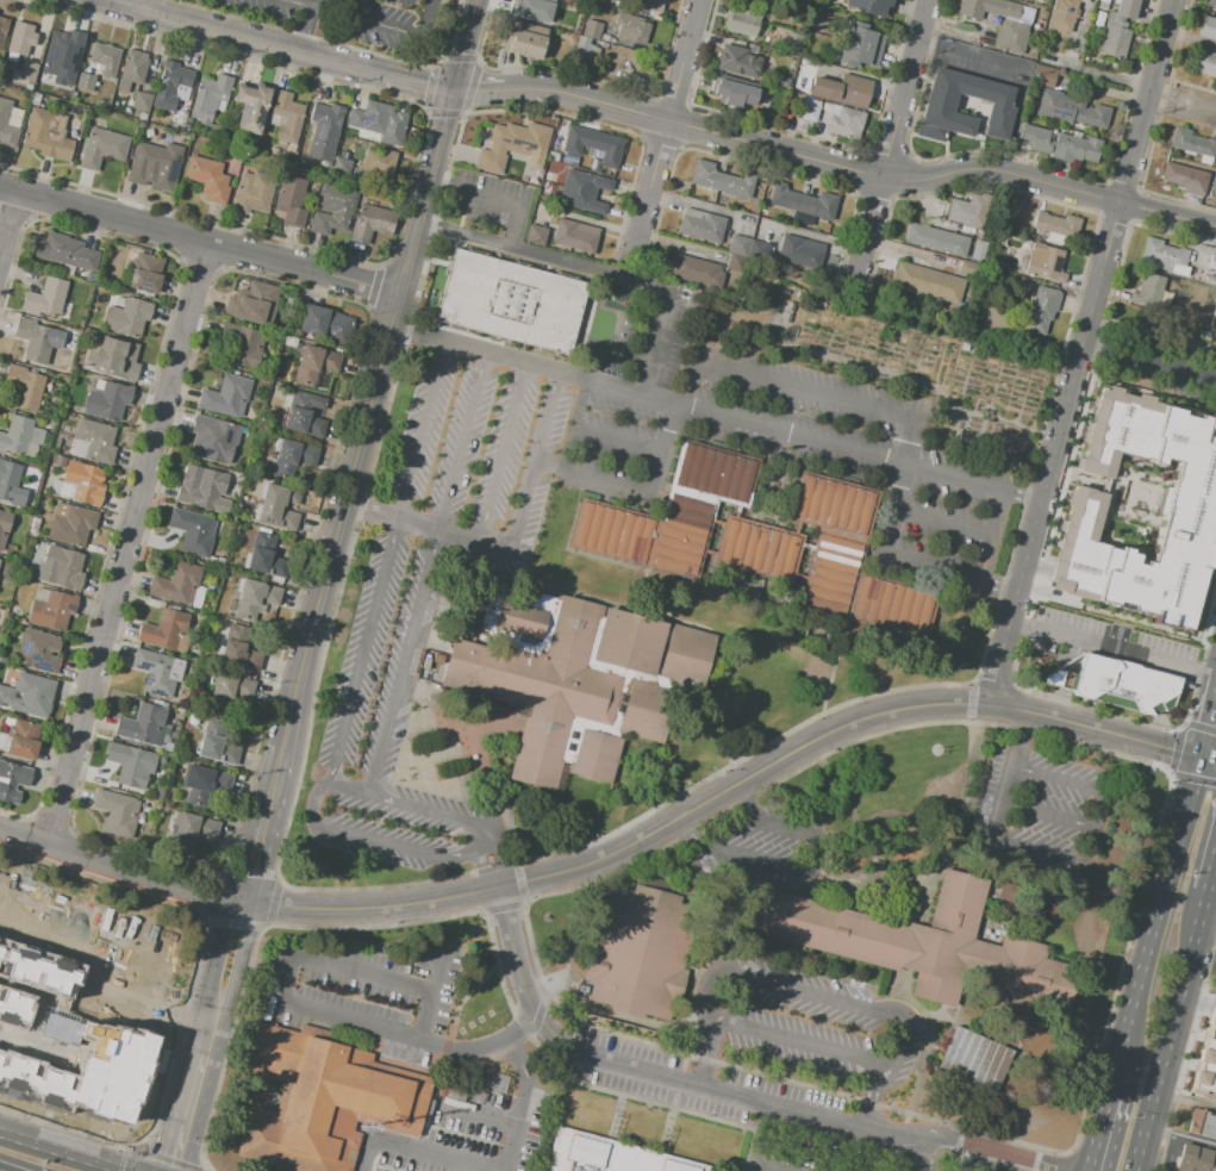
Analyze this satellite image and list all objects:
building: (597, 0)
building: (1024, 0)
building: (613, 1)
road: (112, 2)
building: (1211, 2)
building: (869, 5)
building: (535, 6)
building: (649, 6)
building: (993, 10)
building: (1064, 15)
road: (367, 23)
building: (743, 25)
road: (304, 27)
building: (1208, 27)
building: (632, 29)
building: (2, 30)
building: (1118, 30)
building: (591, 31)
building: (1011, 37)
building: (21, 38)
road: (239, 39)
building: (526, 41)
building: (792, 43)
road: (466, 44)
building: (856, 44)
building: (57, 48)
building: (581, 51)
building: (105, 58)
road: (681, 58)
building: (737, 62)
building: (1204, 63)
building: (133, 67)
building: (27, 70)
building: (1043, 75)
building: (68, 80)
building: (86, 81)
road: (419, 85)
building: (29, 86)
building: (172, 86)
road: (904, 87)
building: (841, 88)
traffic signals: (454, 89)
road: (479, 89)
building: (732, 91)
building: (67, 93)
building: (74, 94)
building: (208, 98)
building: (35, 99)
building: (142, 100)
building: (251, 107)
building: (940, 107)
building: (1070, 110)
building: (807, 111)
building: (142, 116)
building: (286, 116)
building: (373, 116)
building: (353, 118)
building: (14, 122)
building: (847, 124)
road: (692, 125)
building: (7, 126)
building: (393, 127)
building: (325, 130)
building: (48, 133)
building: (1037, 138)
building: (578, 141)
building: (1192, 143)
building: (512, 145)
building: (102, 147)
building: (609, 149)
building: (1075, 149)
building: (274, 151)
building: (380, 162)
building: (155, 166)
building: (293, 166)
building: (593, 166)
building: (342, 167)
building: (706, 177)
building: (208, 179)
building: (1186, 179)
road: (445, 182)
building: (587, 183)
road: (1048, 185)
road: (648, 186)
building: (740, 187)
building: (252, 193)
road: (491, 193)
building: (786, 198)
parking lot: (491, 199)
building: (291, 201)
building: (584, 204)
building: (822, 207)
building: (331, 208)
building: (967, 212)
building: (370, 222)
building: (701, 226)
building: (1056, 228)
road: (10, 229)
road: (865, 230)
road: (463, 235)
building: (536, 235)
building: (576, 237)
road: (200, 241)
building: (936, 241)
building: (738, 245)
building: (790, 250)
building: (66, 251)
building: (978, 251)
building: (811, 256)
building: (1166, 259)
building: (1044, 263)
building: (1211, 263)
road: (586, 266)
building: (968, 269)
building: (694, 270)
building: (146, 273)
building: (927, 284)
building: (1147, 288)
building: (45, 298)
building: (252, 303)
building: (512, 303)
building: (1042, 310)
building: (129, 317)
building: (313, 319)
building: (338, 326)
building: (89, 334)
building: (36, 338)
building: (1215, 342)
building: (242, 344)
road: (475, 349)
road: (1080, 350)
building: (116, 359)
road: (654, 359)
road: (1149, 360)
building: (314, 363)
building: (24, 385)
road: (800, 388)
building: (226, 395)
building: (107, 400)
building: (304, 415)
road: (423, 430)
road: (366, 431)
road: (592, 432)
road: (800, 434)
building: (19, 435)
building: (212, 438)
building: (94, 441)
road: (466, 442)
road: (504, 451)
building: (292, 459)
building: (57, 460)
road: (530, 477)
building: (10, 481)
building: (80, 482)
building: (202, 488)
road: (637, 490)
building: (279, 506)
building: (671, 512)
building: (1139, 513)
road: (395, 517)
road: (948, 521)
building: (70, 524)
building: (4, 525)
building: (33, 527)
building: (192, 530)
road: (461, 536)
building: (757, 546)
road: (125, 547)
building: (264, 556)
building: (850, 558)
building: (0, 559)
road: (915, 561)
building: (60, 568)
road: (986, 574)
building: (227, 575)
building: (177, 584)
parking lot: (400, 591)
building: (255, 597)
building: (51, 609)
building: (162, 629)
building: (238, 648)
road: (366, 649)
road: (1112, 649)
building: (37, 650)
road: (406, 661)
building: (157, 671)
building: (574, 678)
building: (1117, 685)
building: (30, 691)
building: (229, 693)
building: (434, 697)
building: (181, 710)
building: (143, 723)
road: (1210, 736)
building: (23, 739)
building: (217, 742)
traffic signals: (1205, 759)
road: (1210, 760)
building: (131, 764)
building: (12, 780)
building: (206, 784)
road: (730, 784)
road: (279, 786)
road: (350, 786)
building: (940, 806)
building: (117, 811)
road: (444, 815)
road: (274, 829)
building: (193, 833)
road: (249, 836)
road: (380, 839)
road: (114, 870)
road: (493, 876)
road: (1212, 879)
road: (260, 883)
road: (243, 903)
road: (1160, 929)
building: (928, 947)
building: (644, 952)
road: (217, 955)
road: (241, 961)
road: (369, 973)
road: (283, 976)
road: (434, 990)
road: (822, 996)
parking lot: (810, 1021)
road: (1172, 1032)
road: (208, 1033)
road: (419, 1039)
road: (793, 1042)
building: (975, 1059)
building: (1206, 1061)
road: (528, 1079)
building: (498, 1083)
road: (724, 1090)
building: (323, 1100)
road: (187, 1114)
road: (503, 1121)
building: (1203, 1123)
parking lot: (463, 1125)
road: (1105, 1135)
road: (759, 1136)
road: (1181, 1141)
road: (423, 1150)
road: (61, 1151)
building: (609, 1154)
road: (937, 1157)
road: (949, 1157)
building: (1195, 1160)
road: (765, 1167)

